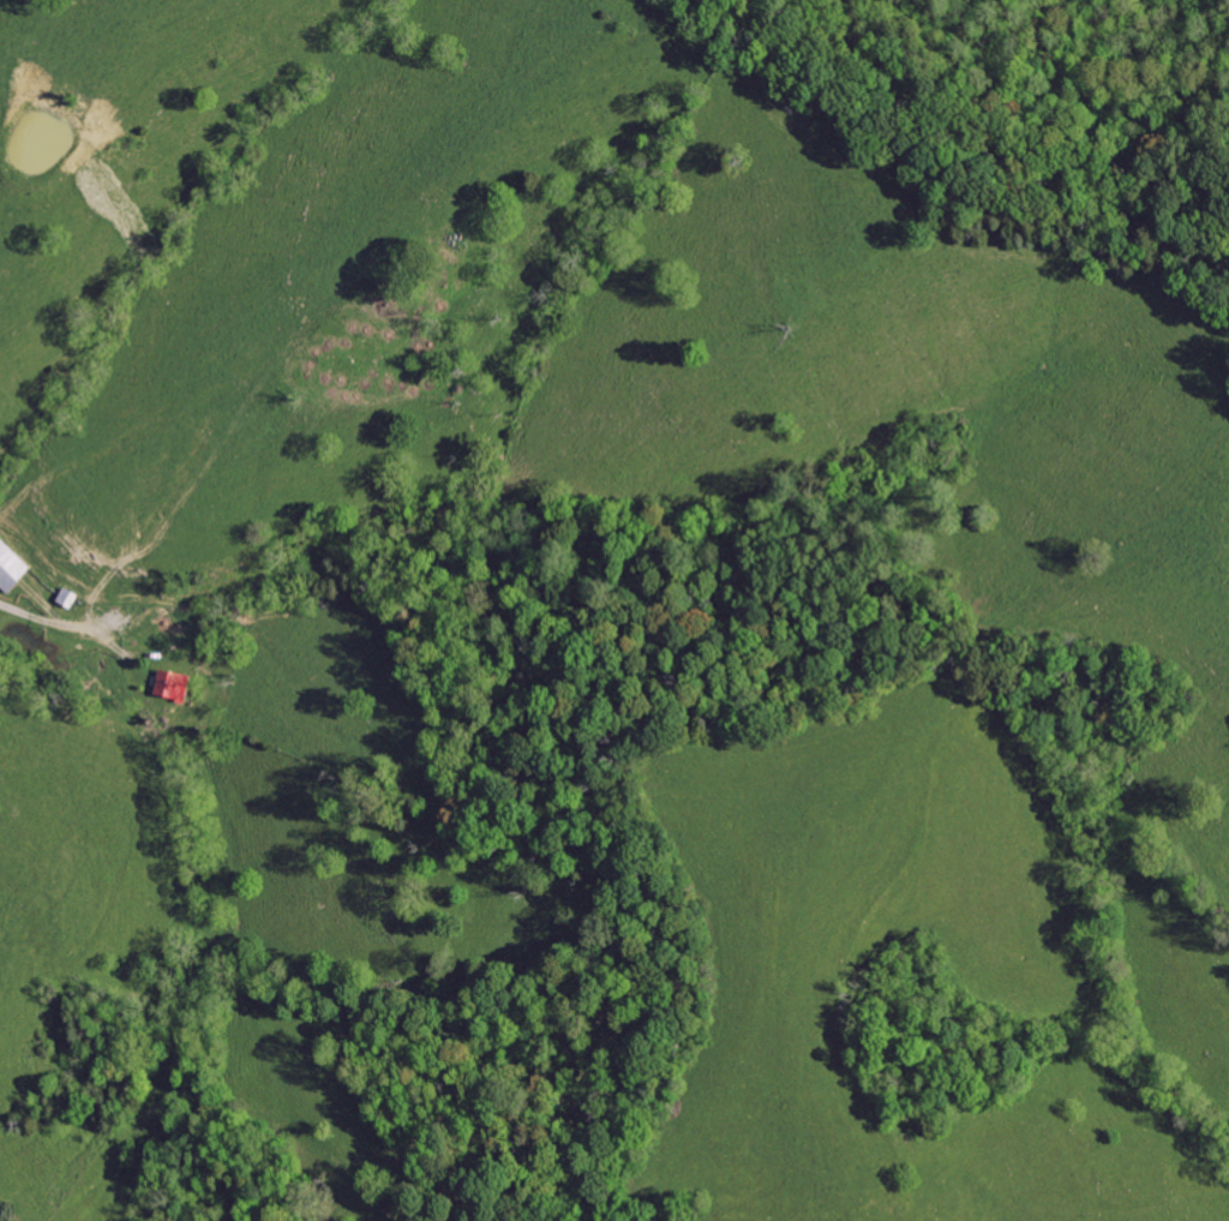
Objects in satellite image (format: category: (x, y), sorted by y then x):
building: (8, 569)
building: (61, 594)
road: (52, 618)
building: (169, 683)

